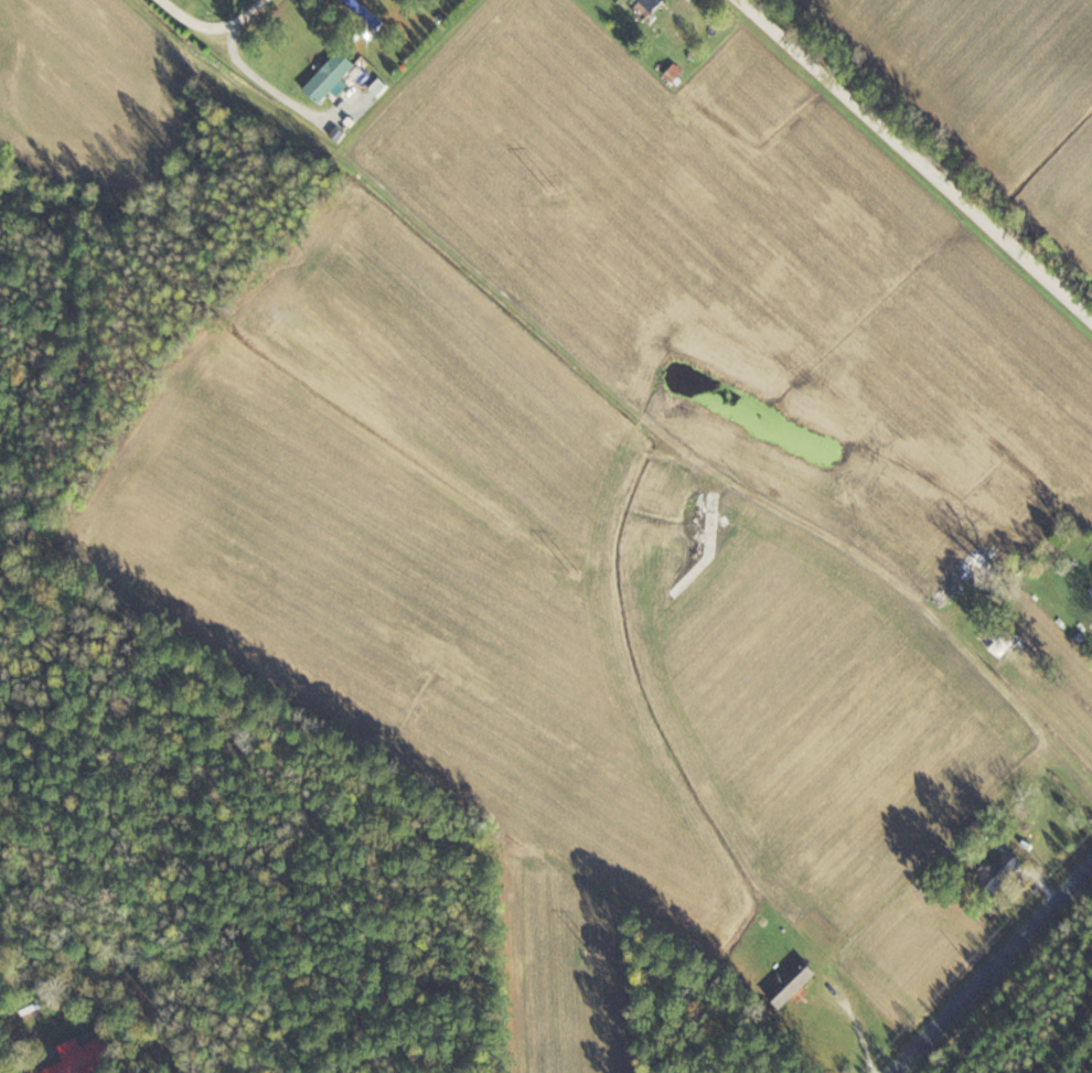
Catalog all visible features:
building: (655, 2)
road: (195, 17)
road: (246, 18)
building: (334, 76)
road: (267, 82)
road: (916, 159)
power tower: (555, 191)
power tower: (580, 572)
building: (956, 589)
building: (1003, 640)
building: (1007, 867)
power tower: (599, 951)
road: (995, 970)
building: (797, 981)
building: (93, 1056)

